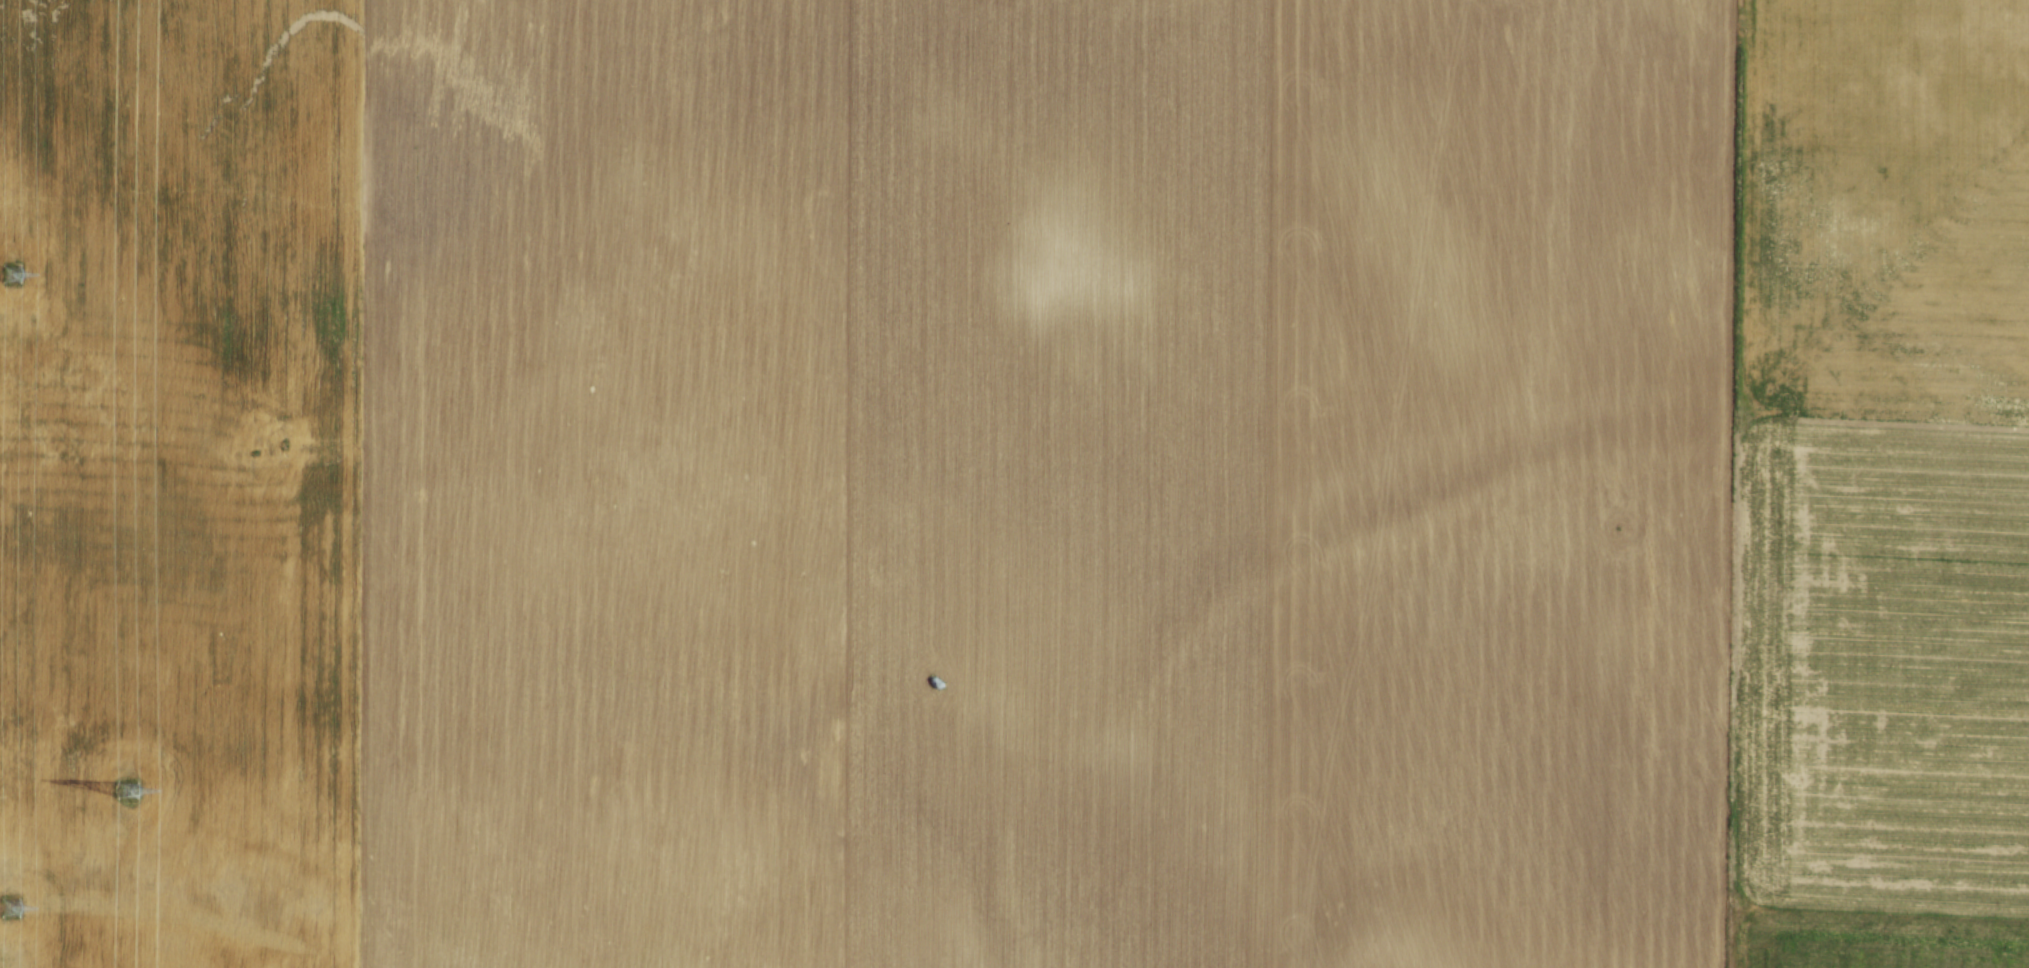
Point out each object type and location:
power tower: (5, 272)
crop: (1014, 484)
power tower: (127, 788)
power tower: (4, 900)

